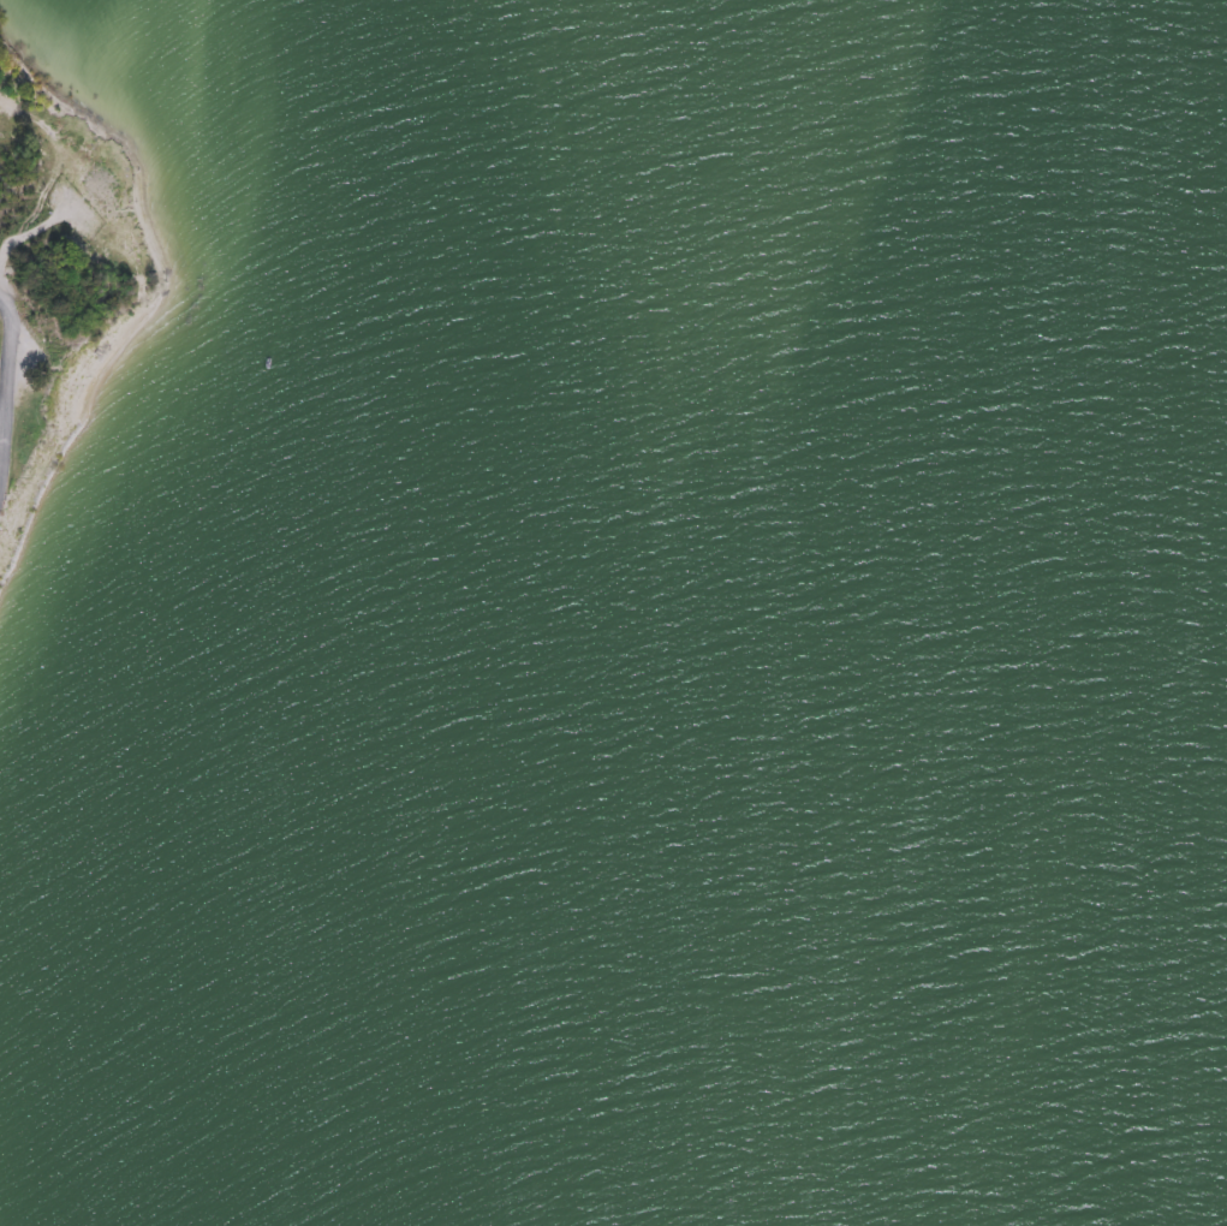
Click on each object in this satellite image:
road: (4, 310)
road: (5, 398)

